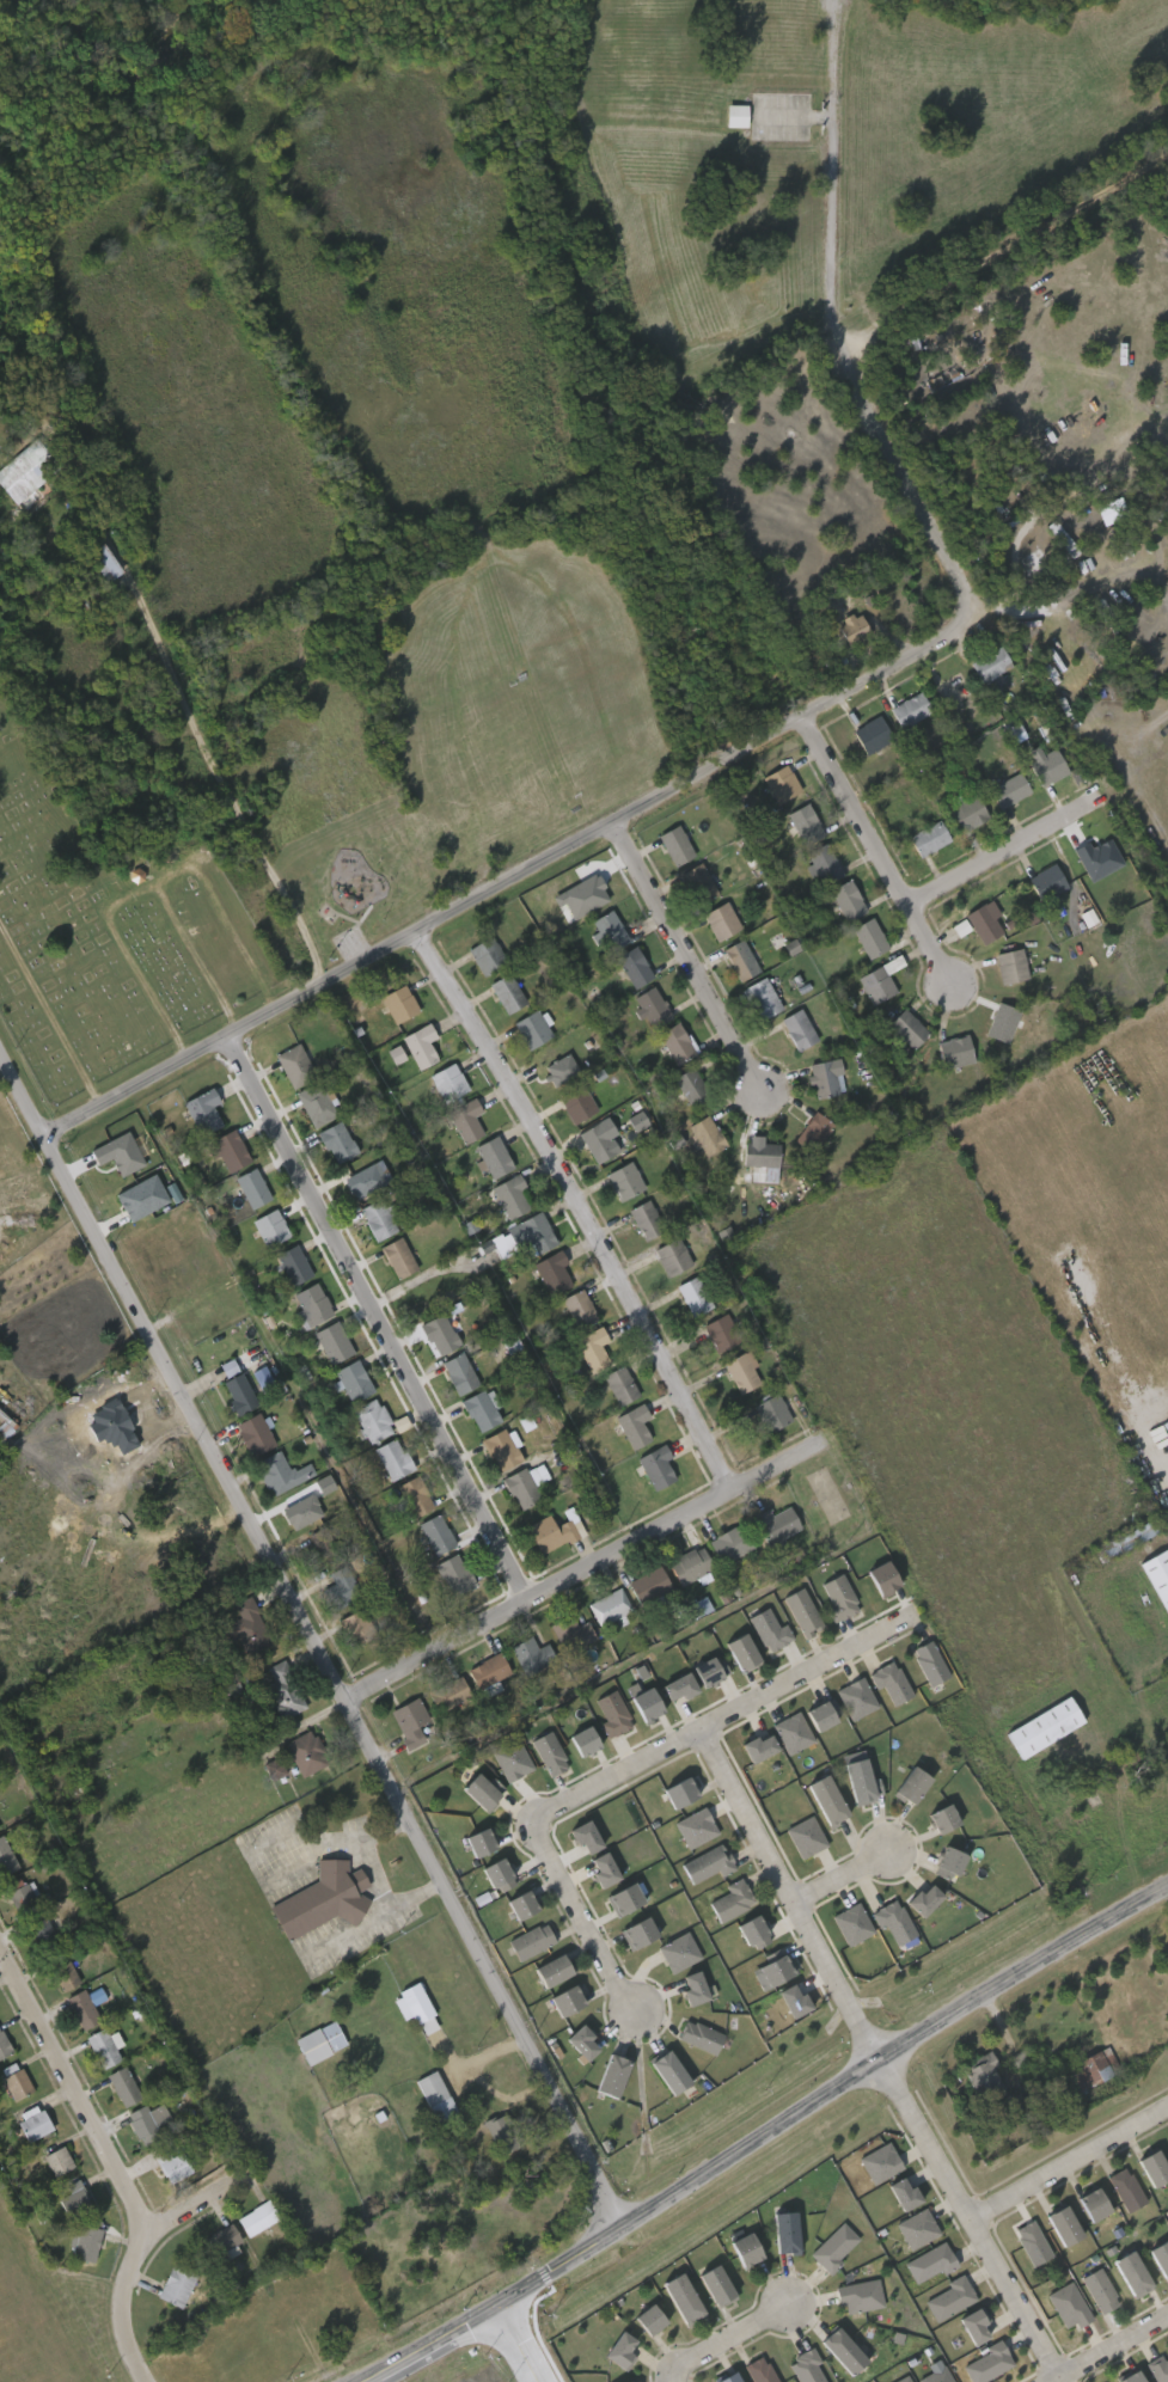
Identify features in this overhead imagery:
building: (735, 115)
road: (838, 182)
building: (29, 471)
road: (1053, 500)
building: (1062, 538)
building: (98, 561)
road: (1090, 594)
road: (977, 618)
building: (850, 629)
building: (989, 663)
building: (909, 709)
road: (191, 716)
road: (799, 720)
building: (869, 733)
building: (1015, 733)
building: (1046, 767)
building: (779, 783)
building: (1008, 789)
building: (966, 813)
building: (802, 823)
building: (927, 838)
building: (673, 844)
road: (877, 851)
road: (1003, 853)
building: (1094, 853)
building: (823, 863)
building: (1045, 881)
building: (696, 883)
building: (587, 890)
building: (844, 900)
building: (718, 920)
building: (980, 923)
building: (607, 929)
building: (961, 929)
building: (867, 937)
building: (484, 954)
road: (687, 959)
building: (738, 960)
building: (1009, 965)
building: (631, 966)
building: (876, 979)
building: (504, 992)
building: (759, 998)
building: (397, 1002)
building: (649, 1005)
building: (999, 1022)
building: (905, 1027)
building: (530, 1028)
building: (795, 1028)
building: (673, 1042)
building: (420, 1043)
building: (952, 1051)
building: (293, 1065)
building: (550, 1066)
building: (820, 1078)
building: (446, 1080)
building: (689, 1086)
building: (574, 1102)
building: (313, 1103)
building: (201, 1108)
building: (464, 1117)
building: (638, 1122)
building: (811, 1131)
building: (703, 1134)
building: (594, 1140)
building: (335, 1141)
building: (230, 1149)
building: (120, 1155)
building: (490, 1155)
building: (757, 1155)
building: (622, 1178)
building: (355, 1180)
building: (251, 1187)
building: (508, 1194)
building: (142, 1199)
road: (582, 1206)
building: (375, 1218)
building: (643, 1218)
building: (268, 1226)
building: (534, 1231)
building: (669, 1255)
building: (396, 1256)
building: (292, 1265)
building: (551, 1272)
building: (691, 1296)
building: (308, 1303)
building: (575, 1308)
road: (381, 1316)
building: (718, 1331)
building: (436, 1334)
building: (331, 1341)
building: (589, 1348)
building: (457, 1372)
building: (739, 1372)
building: (351, 1380)
building: (618, 1384)
building: (234, 1388)
building: (477, 1410)
building: (769, 1410)
building: (371, 1420)
building: (526, 1423)
building: (630, 1425)
building: (252, 1433)
building: (499, 1449)
building: (391, 1458)
building: (653, 1465)
building: (276, 1472)
building: (519, 1488)
building: (411, 1495)
building: (302, 1513)
building: (772, 1523)
building: (1141, 1531)
building: (548, 1532)
building: (434, 1533)
building: (1167, 1533)
building: (728, 1543)
building: (320, 1548)
building: (686, 1564)
road: (585, 1570)
building: (452, 1573)
building: (877, 1576)
building: (1156, 1578)
building: (644, 1584)
building: (340, 1587)
building: (836, 1596)
building: (607, 1606)
building: (702, 1608)
building: (800, 1611)
building: (247, 1625)
building: (356, 1625)
building: (570, 1631)
building: (771, 1631)
road: (308, 1636)
building: (738, 1651)
building: (530, 1653)
building: (927, 1661)
building: (484, 1671)
building: (711, 1672)
building: (891, 1683)
building: (680, 1688)
building: (282, 1689)
building: (448, 1692)
building: (857, 1700)
building: (642, 1703)
building: (613, 1716)
building: (824, 1716)
building: (409, 1721)
building: (1040, 1727)
building: (793, 1734)
building: (580, 1740)
building: (759, 1749)
building: (305, 1752)
building: (548, 1752)
building: (513, 1761)
road: (631, 1764)
building: (275, 1770)
building: (854, 1781)
building: (905, 1784)
building: (476, 1789)
building: (677, 1792)
building: (81, 1794)
building: (821, 1799)
building: (937, 1818)
building: (696, 1829)
building: (586, 1837)
building: (806, 1838)
building: (475, 1839)
building: (5, 1857)
building: (704, 1863)
building: (949, 1864)
building: (605, 1870)
road: (842, 1874)
building: (500, 1876)
building: (22, 1894)
road: (790, 1894)
building: (620, 1896)
building: (322, 1898)
building: (728, 1898)
building: (518, 1902)
building: (924, 1902)
building: (894, 1922)
building: (852, 1925)
building: (38, 1929)
building: (636, 1930)
building: (754, 1934)
building: (528, 1940)
building: (1166, 1947)
building: (679, 1953)
building: (548, 1967)
building: (771, 1967)
building: (61, 1968)
building: (695, 1990)
building: (564, 1997)
building: (795, 2002)
building: (414, 2006)
building: (80, 2008)
building: (697, 2034)
building: (319, 2041)
building: (583, 2043)
building: (4, 2044)
building: (100, 2046)
building: (1019, 2057)
building: (1088, 2066)
building: (665, 2068)
building: (609, 2074)
building: (983, 2076)
building: (16, 2082)
building: (122, 2083)
building: (433, 2090)
building: (31, 2123)
building: (142, 2124)
building: (502, 2131)
road: (760, 2136)
road: (1068, 2155)
building: (55, 2160)
road: (106, 2160)
building: (172, 2163)
building: (881, 2164)
building: (1149, 2164)
building: (1124, 2187)
building: (905, 2196)
building: (73, 2198)
building: (1088, 2203)
road: (191, 2205)
building: (255, 2217)
road: (968, 2218)
building: (1060, 2224)
building: (784, 2230)
building: (918, 2230)
building: (221, 2239)
building: (85, 2241)
building: (1032, 2241)
building: (742, 2248)
building: (834, 2248)
building: (1158, 2255)
building: (931, 2264)
building: (1129, 2271)
building: (714, 2283)
building: (176, 2284)
building: (1100, 2289)
building: (680, 2296)
building: (860, 2297)
building: (952, 2298)
building: (1070, 2307)
building: (646, 2317)
building: (976, 2326)
road: (721, 2335)
road: (514, 2343)
road: (1107, 2345)
building: (840, 2350)
building: (622, 2352)
building: (989, 2364)
building: (807, 2368)
building: (1158, 2369)
building: (759, 2370)
building: (726, 2376)
building: (937, 2376)
building: (1129, 2376)
building: (905, 2380)
building: (624, 2381)

